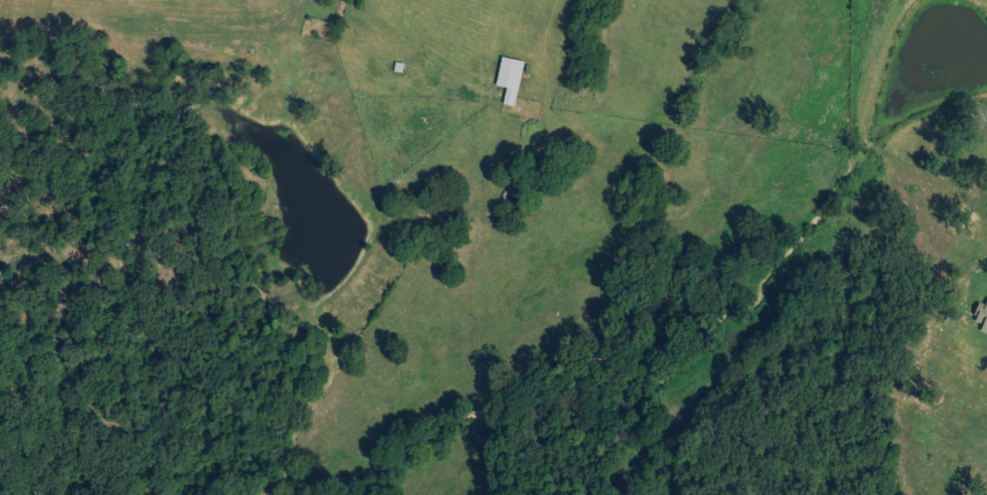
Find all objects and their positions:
building: (509, 79)
building: (983, 318)

